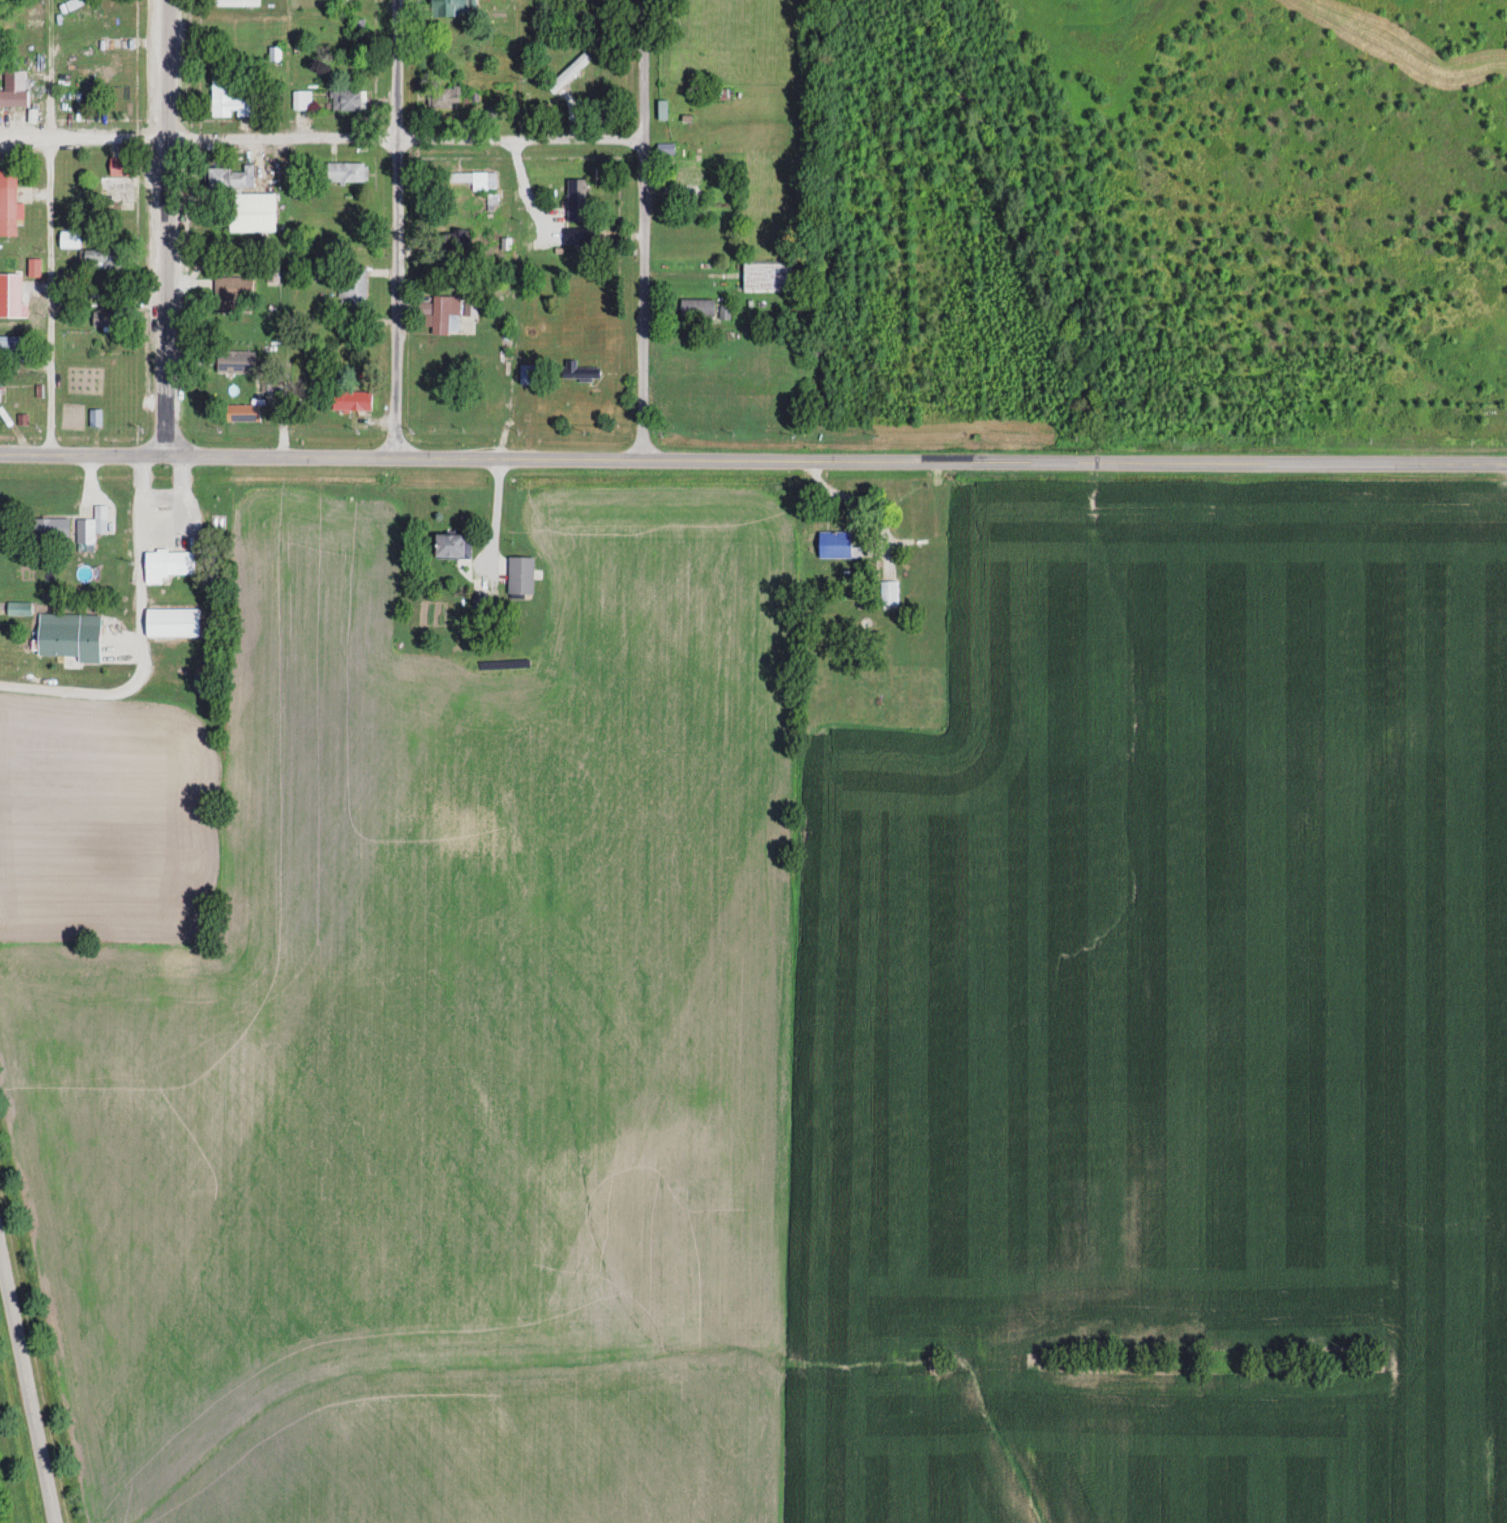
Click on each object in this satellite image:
building: (235, 3)
building: (450, 7)
building: (358, 26)
building: (85, 47)
building: (568, 74)
building: (444, 97)
building: (229, 98)
building: (13, 99)
building: (301, 99)
building: (346, 99)
building: (472, 99)
road: (320, 138)
building: (120, 165)
building: (347, 172)
building: (230, 176)
building: (687, 176)
building: (475, 179)
road: (522, 185)
building: (116, 192)
building: (576, 199)
building: (8, 211)
building: (251, 212)
road: (166, 228)
road: (396, 228)
road: (641, 229)
building: (581, 236)
building: (461, 238)
building: (69, 239)
building: (101, 260)
building: (33, 267)
building: (8, 274)
building: (767, 277)
building: (352, 287)
building: (232, 293)
road: (48, 296)
building: (697, 307)
building: (106, 314)
building: (443, 314)
building: (18, 345)
building: (235, 361)
building: (579, 370)
building: (528, 374)
building: (267, 383)
building: (84, 384)
building: (351, 400)
building: (36, 412)
building: (242, 412)
building: (94, 417)
building: (22, 418)
road: (319, 457)
road: (1073, 462)
road: (497, 526)
building: (50, 528)
building: (89, 529)
building: (836, 544)
building: (452, 545)
building: (167, 564)
building: (520, 576)
building: (888, 592)
building: (172, 622)
building: (192, 664)
road: (74, 689)
road: (25, 1394)

